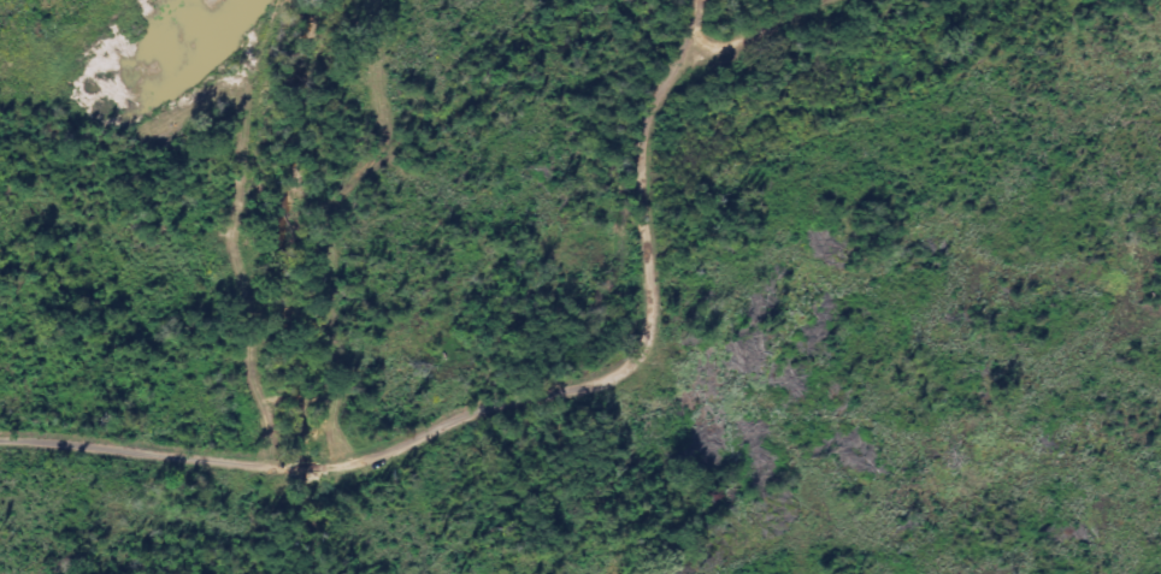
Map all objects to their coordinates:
road: (505, 403)

